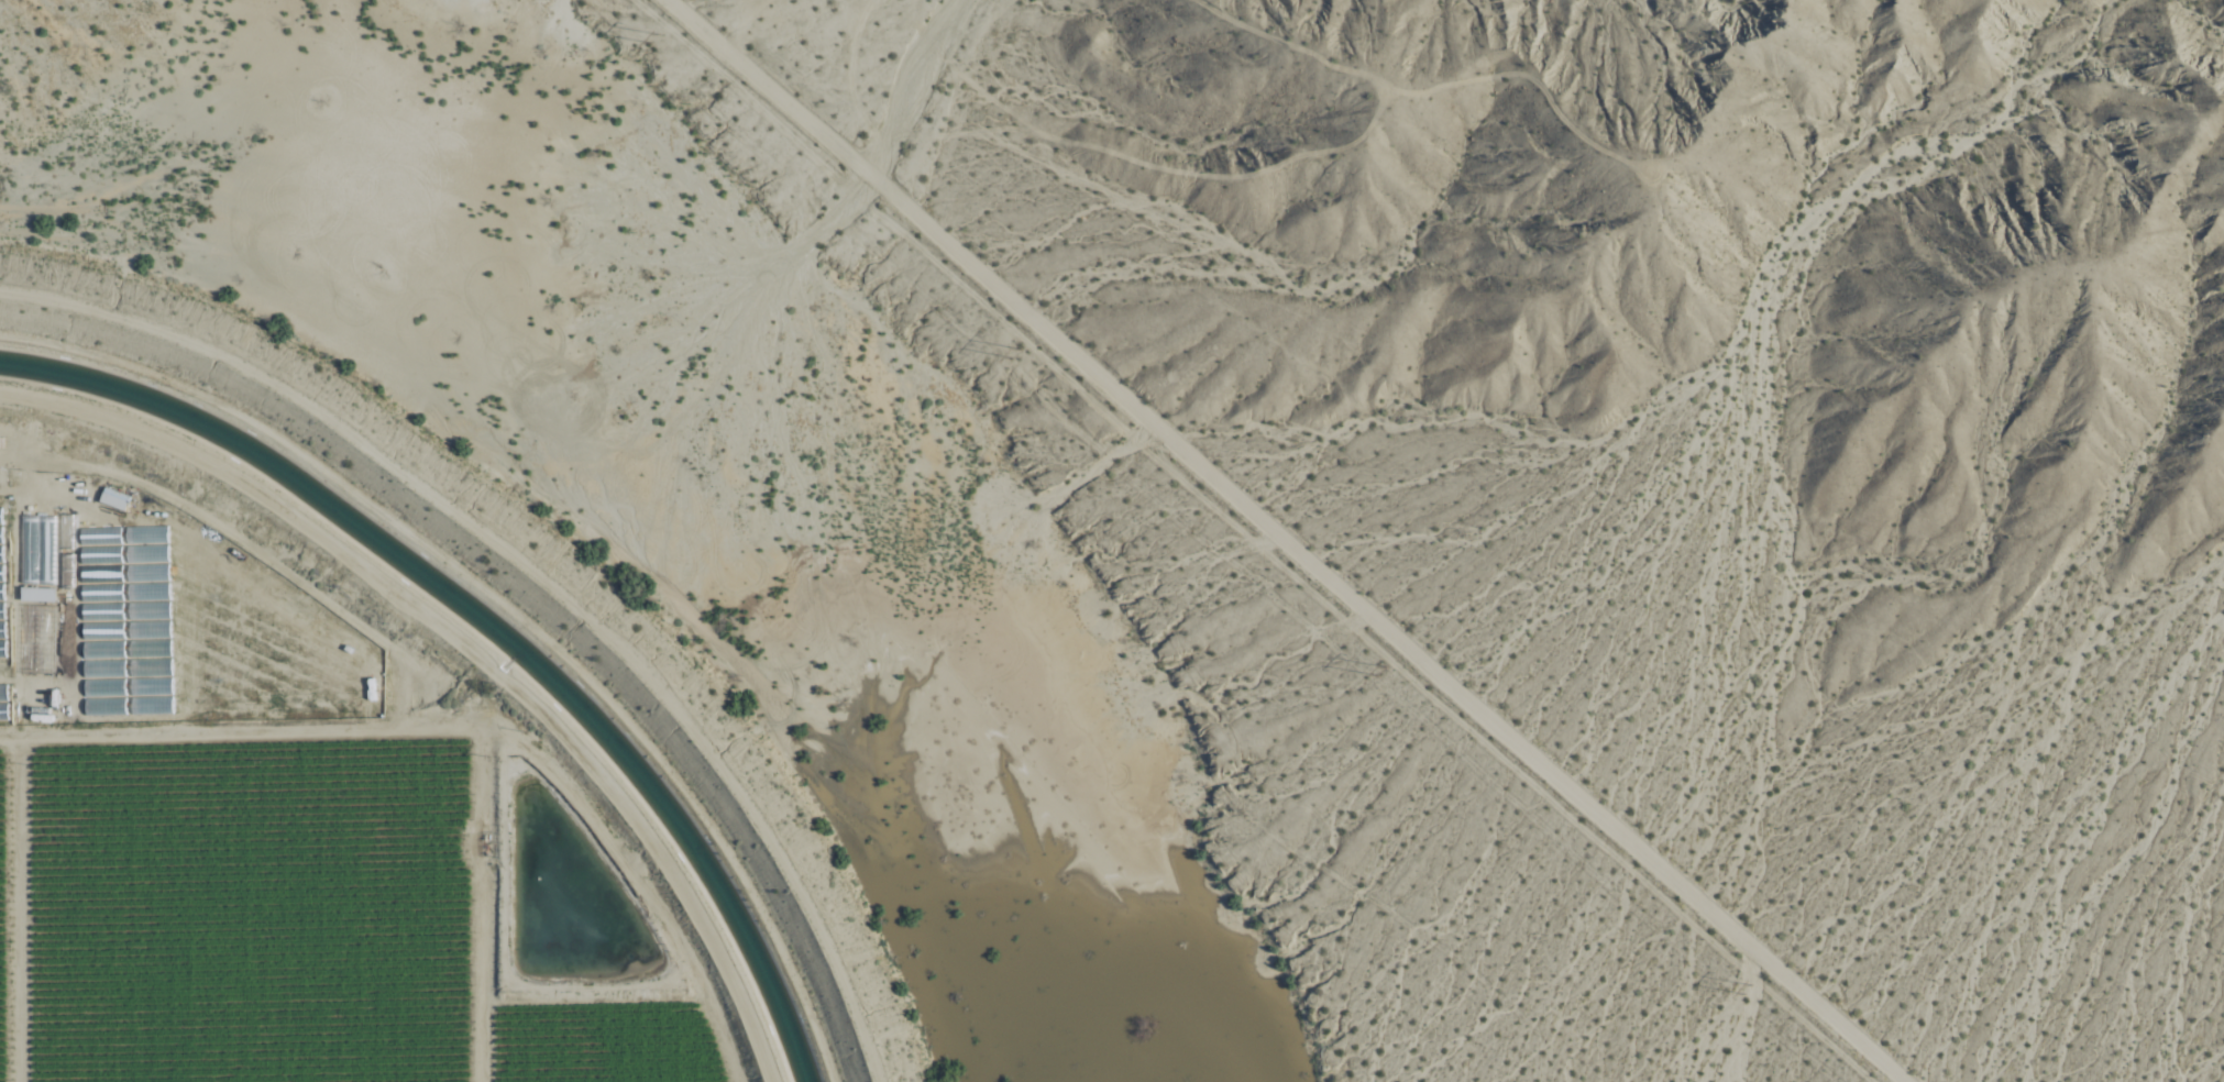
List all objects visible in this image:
power tower: (653, 42)
power tower: (1015, 351)
road: (1297, 540)
road: (470, 645)
power tower: (1379, 673)
power tower: (1749, 992)

